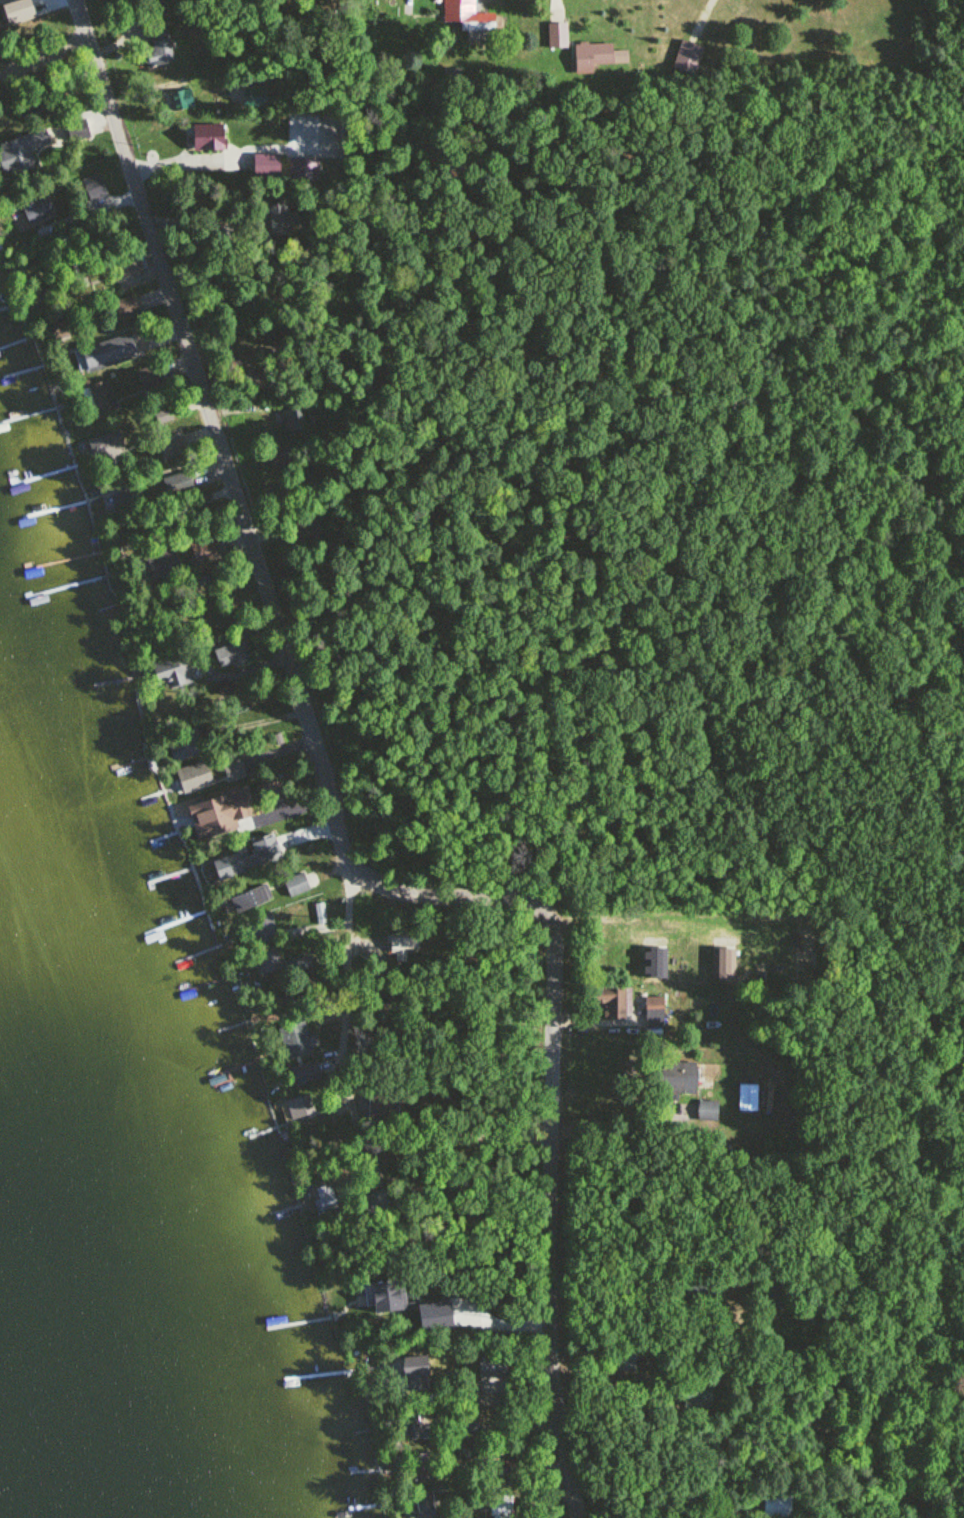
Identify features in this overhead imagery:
building: (19, 15)
building: (468, 15)
building: (558, 35)
building: (159, 47)
building: (596, 57)
building: (688, 58)
building: (182, 101)
building: (37, 110)
building: (78, 131)
building: (208, 138)
building: (23, 152)
building: (266, 166)
building: (39, 211)
building: (274, 220)
building: (130, 264)
building: (124, 309)
building: (109, 353)
building: (148, 377)
building: (103, 398)
building: (292, 420)
road: (218, 435)
building: (170, 445)
building: (106, 446)
building: (285, 459)
building: (179, 485)
building: (127, 499)
building: (307, 531)
building: (203, 550)
building: (162, 564)
building: (233, 656)
building: (166, 673)
building: (233, 772)
building: (192, 779)
building: (274, 793)
building: (238, 811)
building: (279, 850)
building: (227, 869)
building: (297, 886)
building: (249, 901)
building: (259, 931)
building: (268, 963)
building: (615, 1003)
road: (346, 1008)
building: (654, 1012)
building: (301, 1048)
building: (305, 1073)
building: (681, 1078)
building: (747, 1099)
building: (383, 1107)
building: (300, 1109)
building: (708, 1111)
road: (553, 1114)
road: (461, 1135)
building: (324, 1200)
building: (376, 1204)
building: (625, 1362)
building: (493, 1368)
building: (413, 1375)
building: (698, 1395)
building: (469, 1427)
building: (416, 1429)
building: (417, 1468)
building: (511, 1470)
building: (425, 1504)
building: (501, 1506)
building: (777, 1506)

